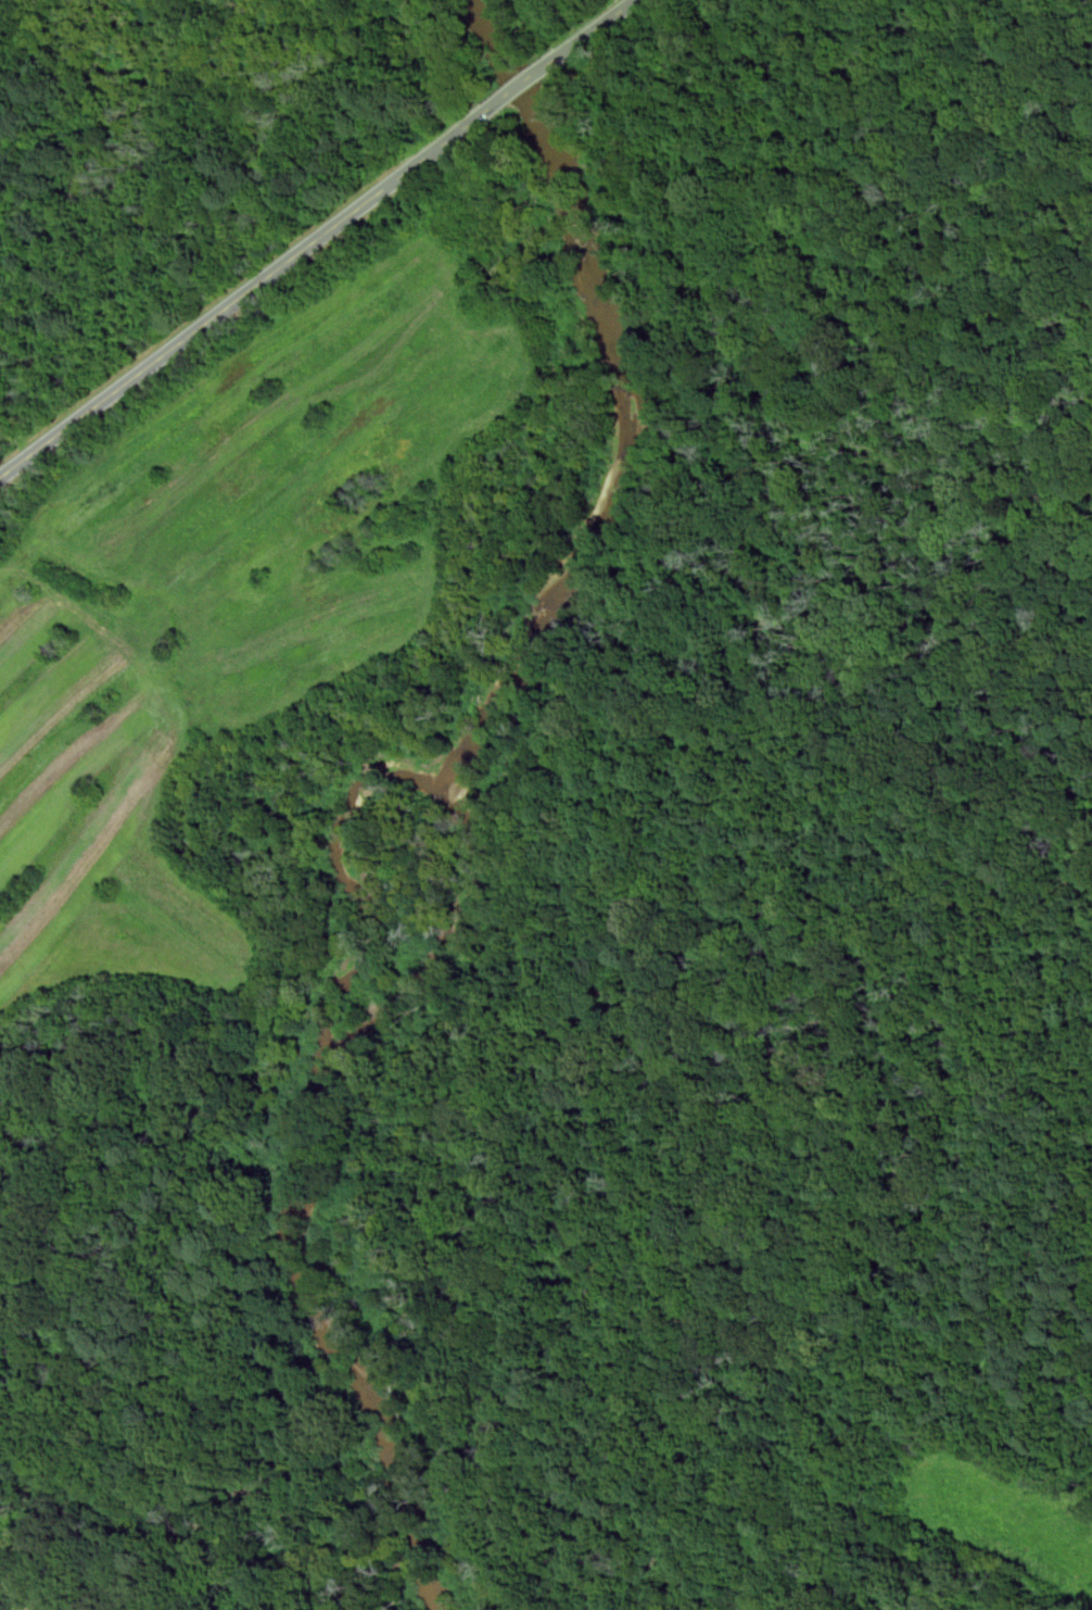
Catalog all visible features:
road: (604, 24)
road: (530, 79)
road: (243, 293)
river: (406, 790)
building: (36, 1609)

